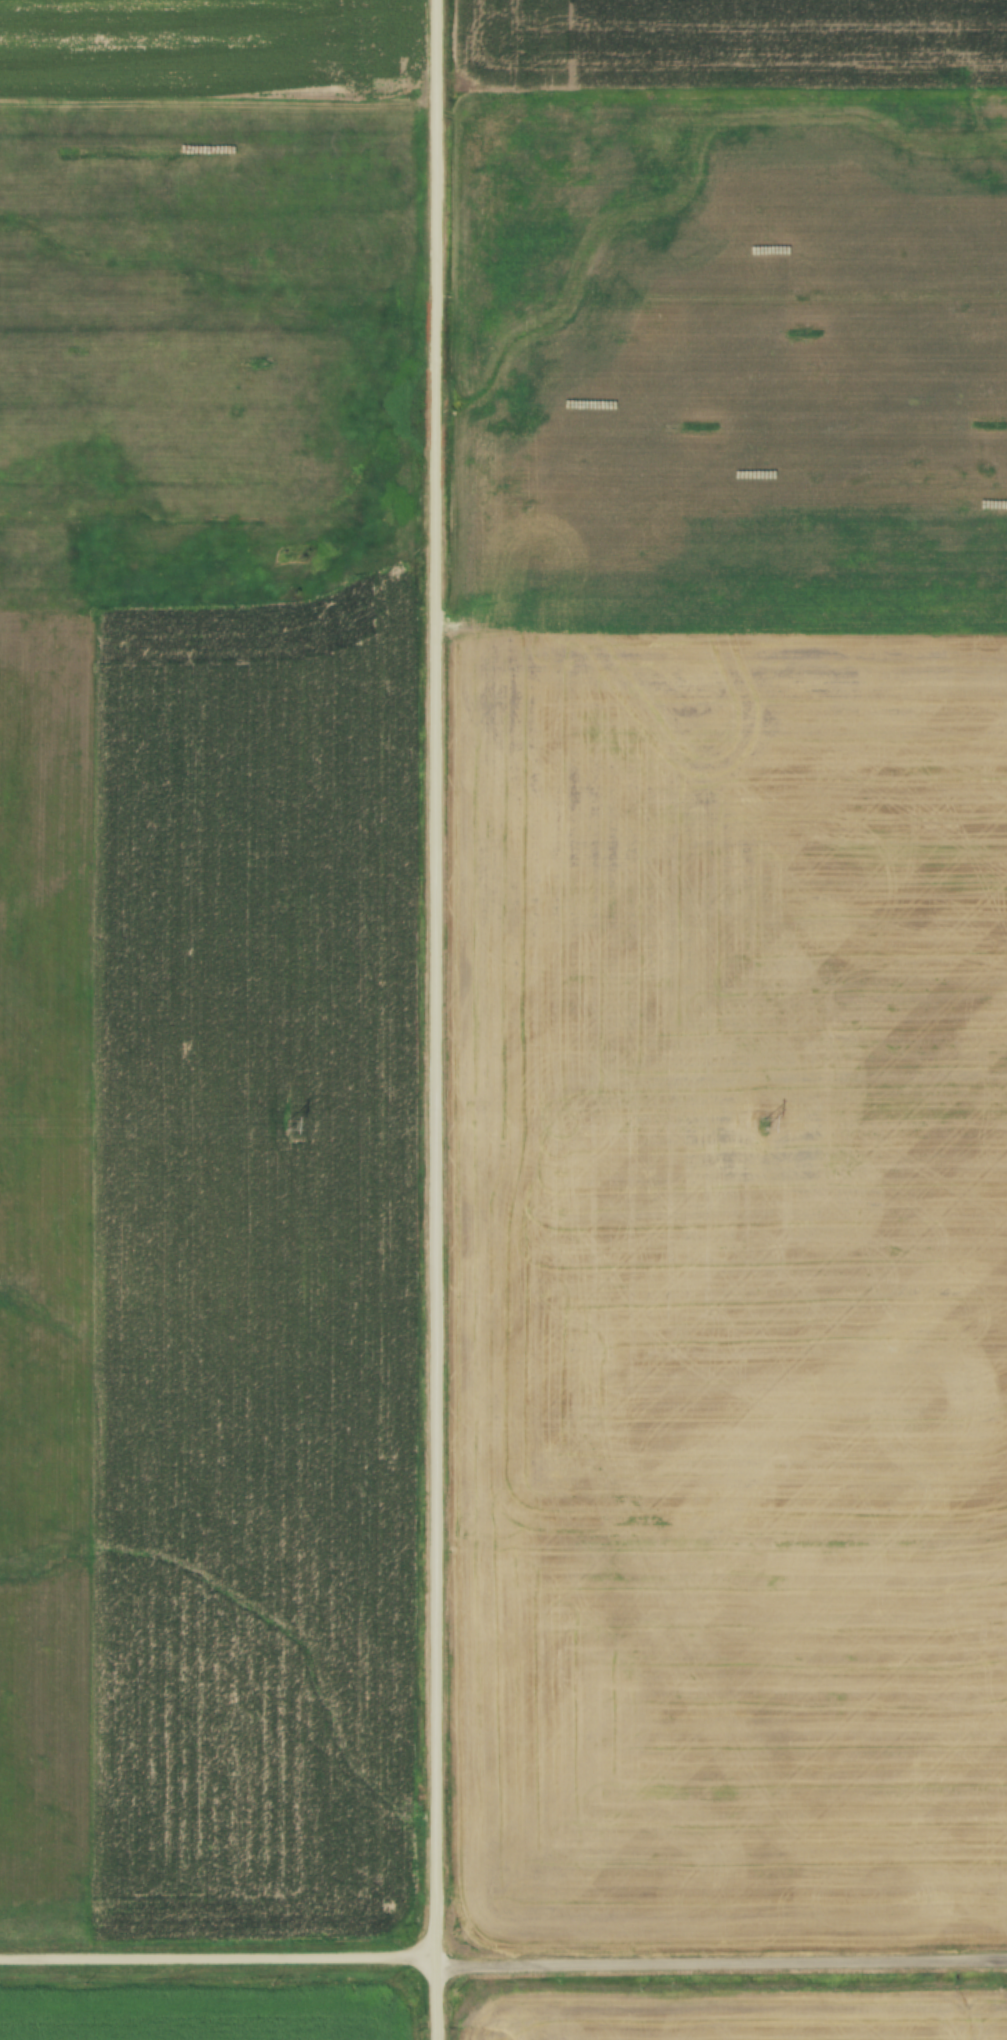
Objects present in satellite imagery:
building: (700, 430)
road: (439, 1019)
power tower: (286, 1125)
power tower: (762, 1125)
road: (503, 1958)

